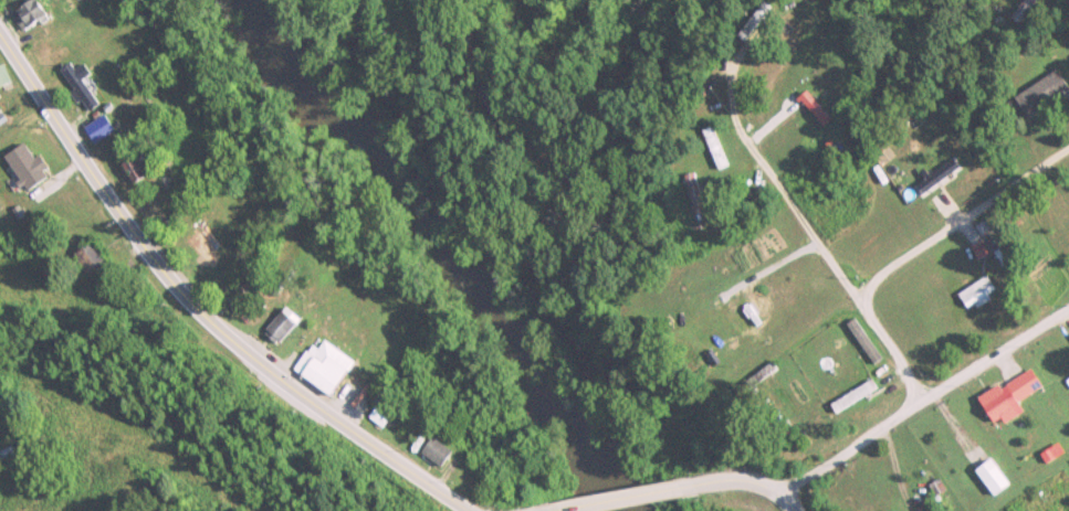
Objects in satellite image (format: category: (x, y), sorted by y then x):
building: (25, 14)
building: (3, 76)
building: (1041, 94)
building: (24, 167)
road: (773, 184)
road: (913, 255)
building: (976, 292)
road: (197, 311)
building: (1021, 386)
building: (849, 397)
road: (926, 401)
building: (995, 405)
road: (740, 482)
road: (617, 499)

